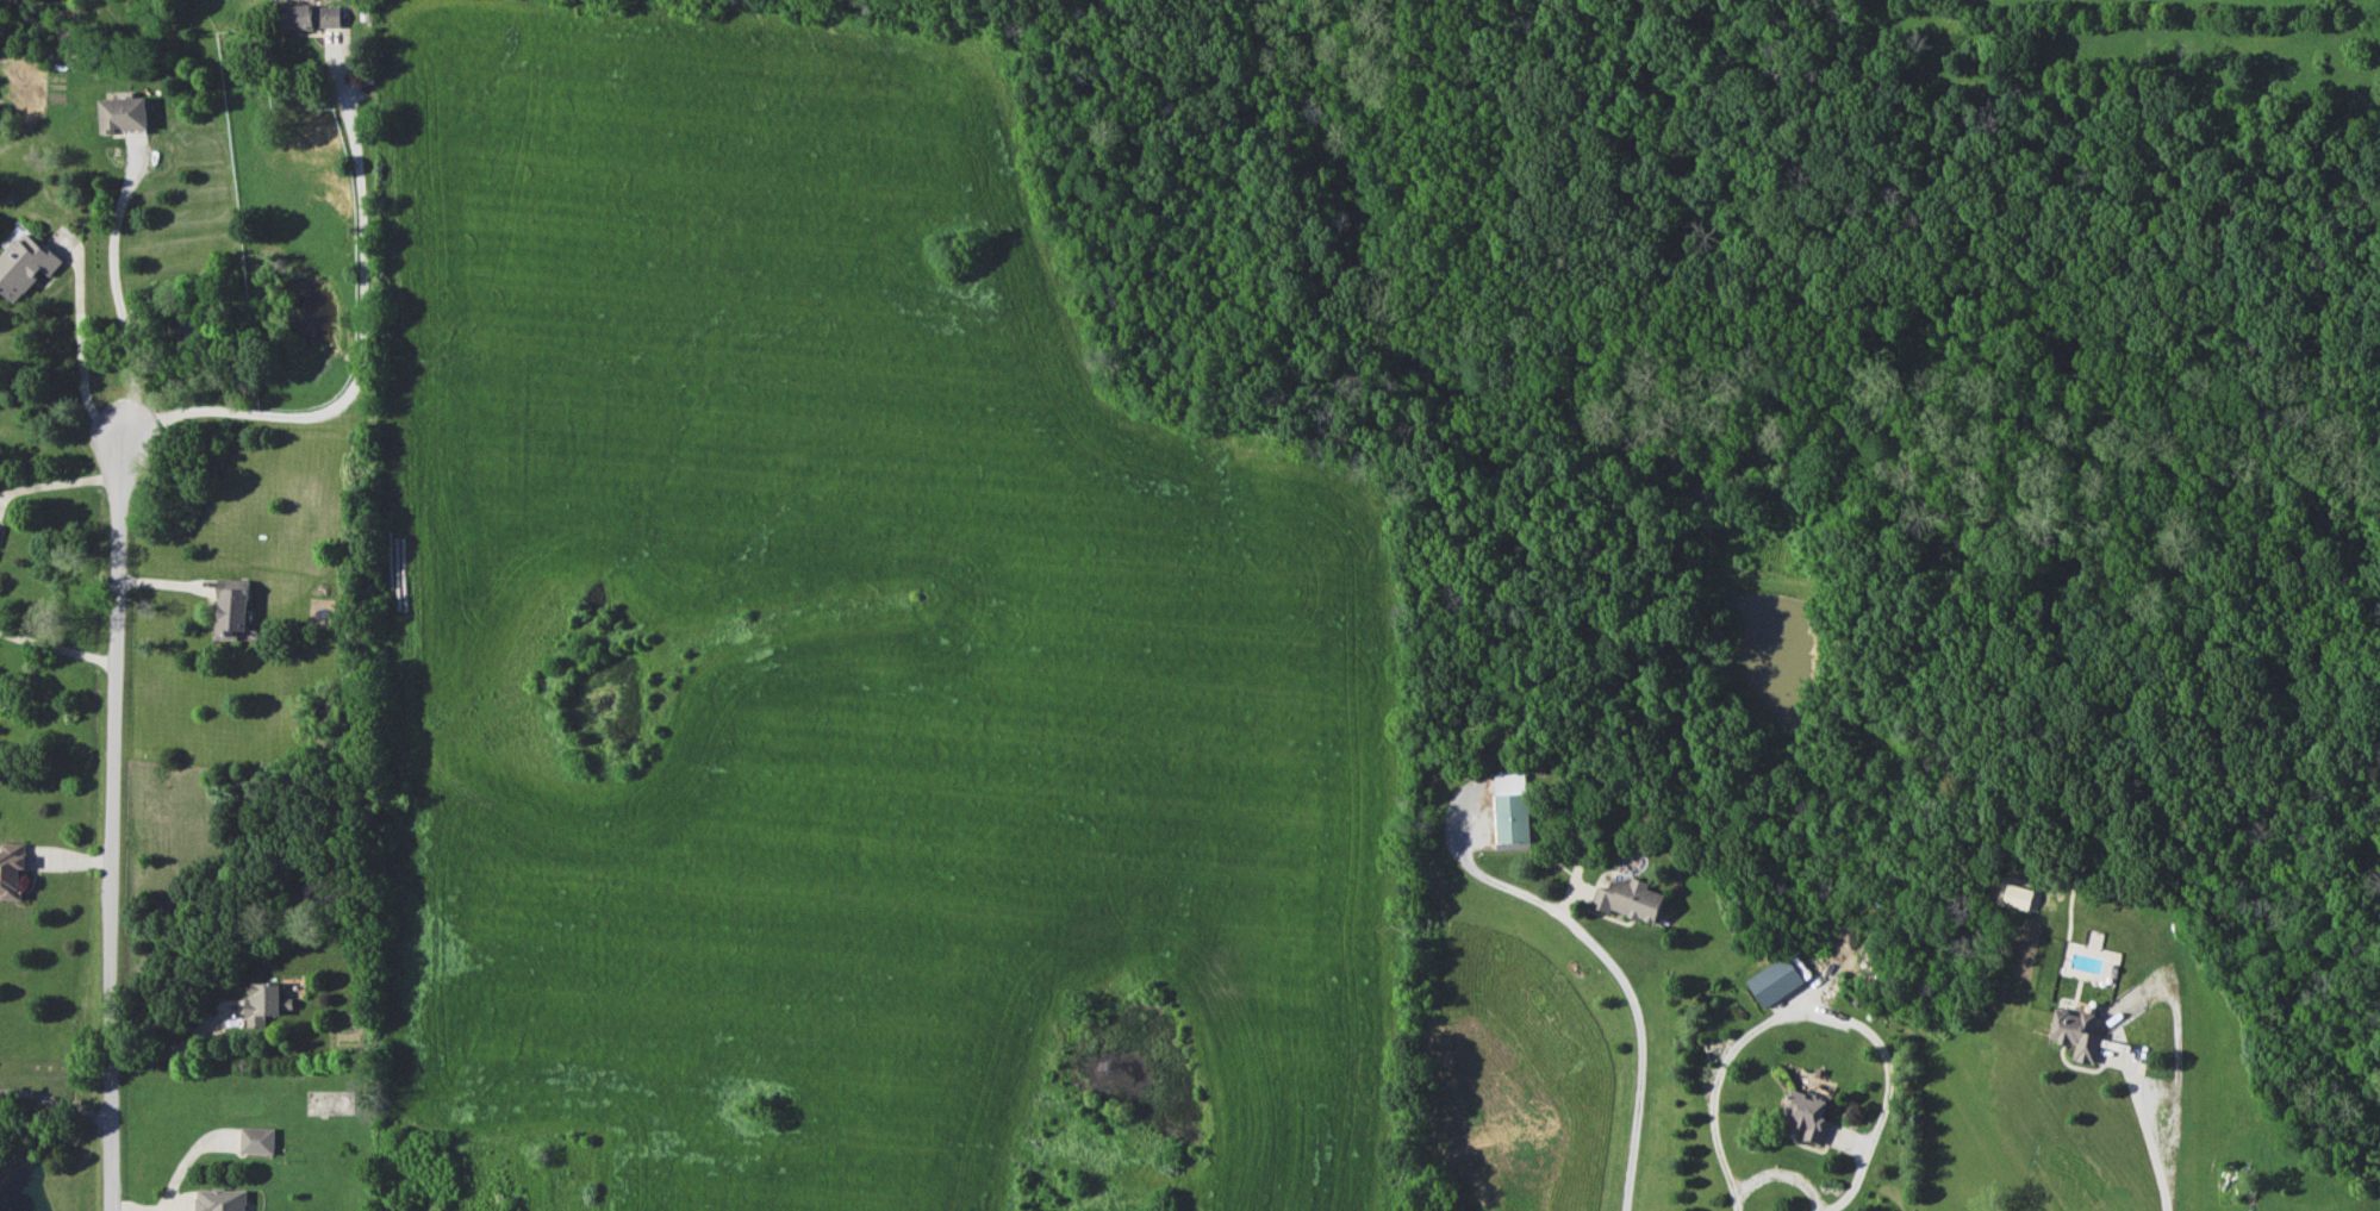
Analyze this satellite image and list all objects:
building: (312, 15)
building: (123, 114)
building: (24, 266)
road: (114, 287)
road: (76, 339)
road: (361, 342)
road: (57, 483)
road: (162, 579)
building: (231, 605)
road: (58, 648)
building: (1510, 811)
road: (118, 819)
building: (11, 869)
building: (2017, 895)
building: (1628, 899)
road: (1615, 970)
building: (1775, 980)
building: (2075, 1034)
road: (180, 1044)
road: (60, 1104)
building: (1807, 1115)
road: (2150, 1117)
building: (256, 1140)
road: (1771, 1167)
building: (219, 1199)

